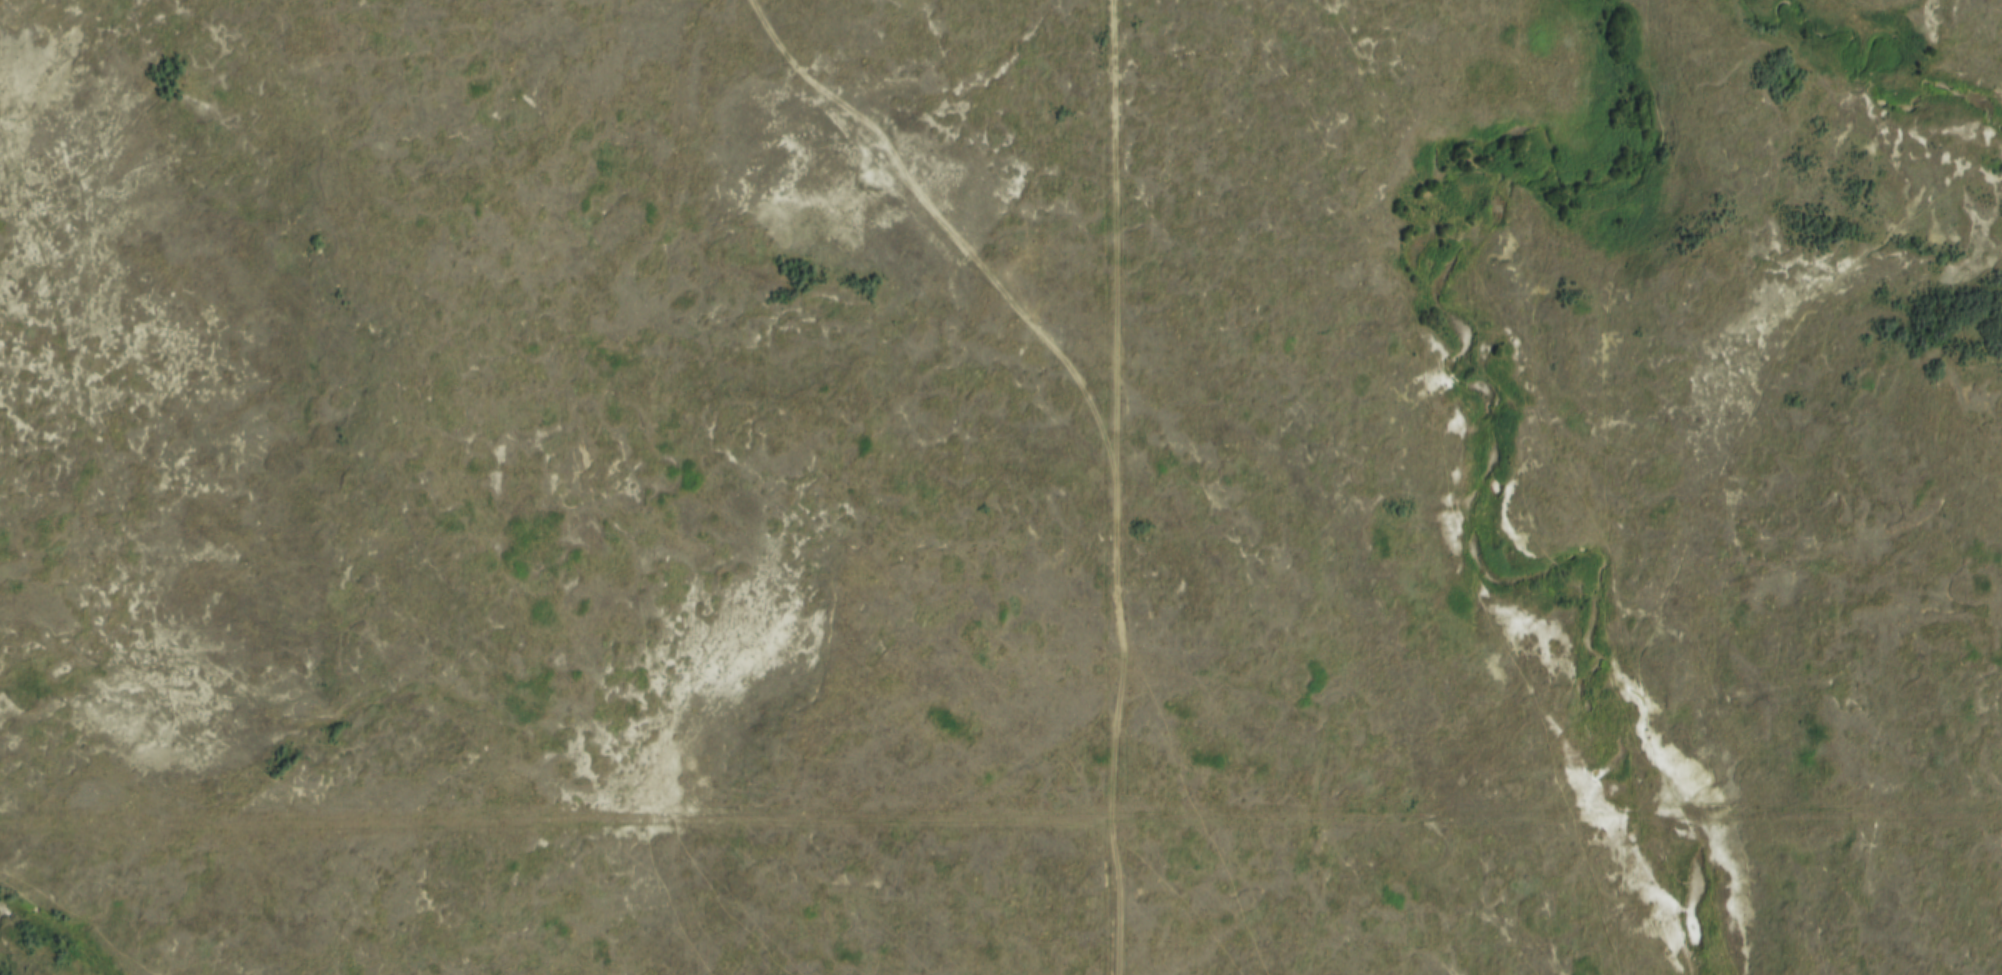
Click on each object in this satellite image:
road: (953, 226)
road: (1120, 236)

